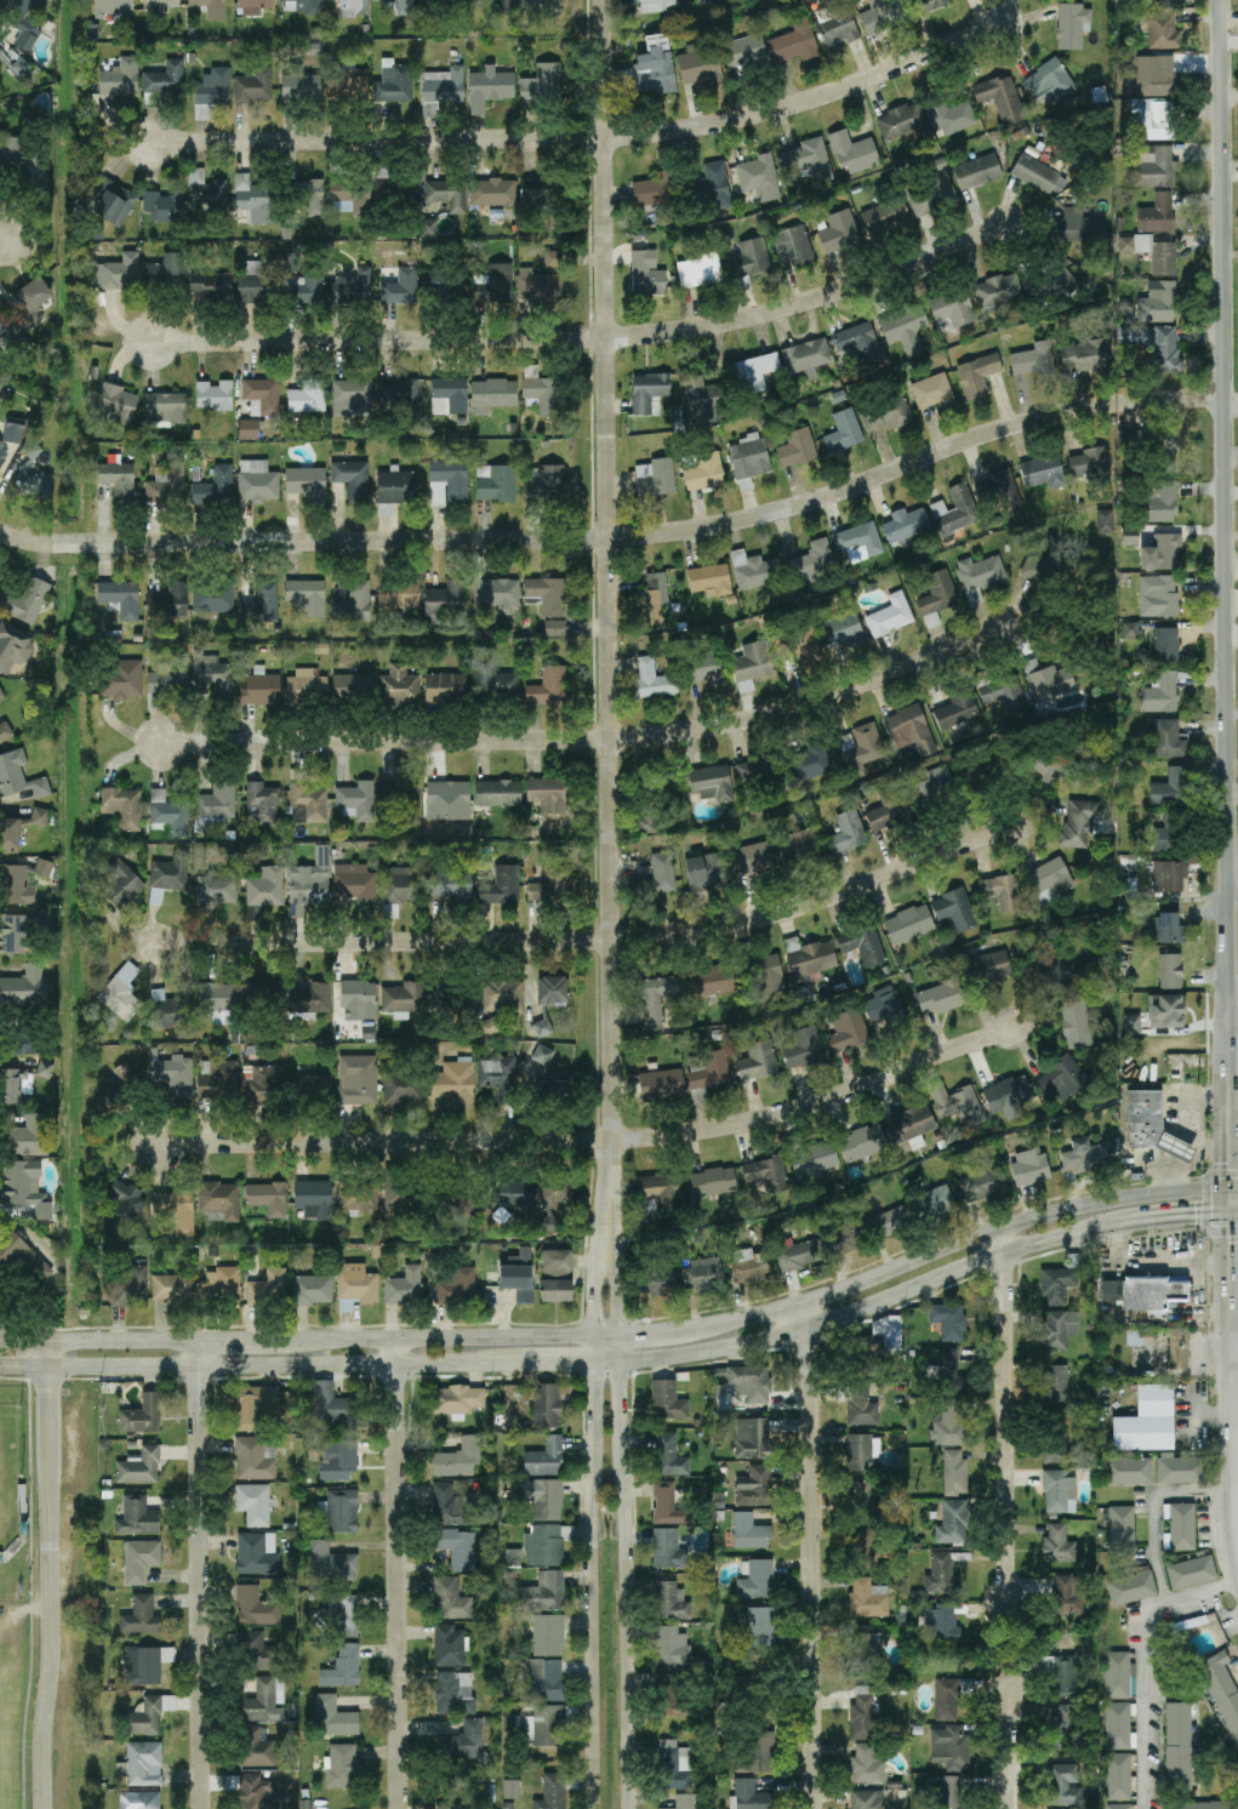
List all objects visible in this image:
building: (329, 0)
building: (440, 1)
building: (1166, 2)
building: (161, 4)
building: (494, 4)
building: (931, 4)
building: (656, 5)
building: (301, 6)
building: (403, 6)
building: (114, 7)
building: (252, 7)
building: (354, 7)
building: (541, 7)
building: (211, 8)
building: (882, 16)
building: (24, 21)
building: (837, 24)
building: (1072, 25)
building: (1163, 30)
building: (794, 44)
building: (746, 51)
building: (0, 52)
building: (700, 64)
building: (21, 67)
building: (652, 68)
building: (1154, 76)
building: (120, 79)
building: (165, 79)
building: (394, 82)
building: (1048, 82)
building: (441, 84)
building: (542, 84)
building: (299, 85)
building: (492, 85)
building: (255, 86)
building: (348, 86)
building: (211, 92)
road: (1230, 95)
building: (1000, 98)
building: (951, 116)
building: (1153, 119)
building: (903, 122)
road: (586, 141)
building: (854, 153)
building: (810, 160)
building: (29, 162)
building: (1154, 166)
road: (1230, 167)
building: (977, 172)
building: (1039, 176)
building: (760, 177)
building: (382, 184)
building: (712, 187)
building: (205, 190)
building: (532, 190)
building: (492, 192)
building: (656, 192)
building: (447, 194)
building: (309, 195)
building: (931, 195)
building: (350, 196)
building: (253, 199)
building: (113, 202)
building: (165, 207)
building: (1157, 215)
building: (885, 217)
building: (1074, 226)
building: (428, 228)
building: (839, 232)
road: (7, 242)
building: (793, 246)
building: (1152, 253)
building: (749, 258)
building: (552, 259)
building: (166, 269)
road: (607, 269)
building: (700, 270)
building: (116, 273)
building: (646, 273)
building: (1060, 279)
building: (302, 283)
building: (211, 285)
building: (255, 285)
building: (441, 285)
building: (494, 285)
building: (538, 286)
building: (352, 287)
building: (401, 287)
building: (998, 291)
building: (1158, 303)
building: (30, 304)
building: (952, 308)
building: (4, 333)
road: (587, 342)
building: (858, 342)
building: (1154, 344)
building: (1, 355)
building: (1083, 356)
building: (805, 359)
building: (1033, 360)
building: (755, 372)
building: (977, 375)
building: (647, 390)
building: (542, 392)
building: (934, 392)
building: (451, 393)
building: (215, 395)
building: (400, 395)
building: (492, 395)
building: (262, 396)
building: (308, 396)
building: (352, 398)
road: (1230, 400)
building: (702, 401)
building: (118, 405)
building: (165, 409)
building: (886, 415)
building: (249, 429)
building: (13, 430)
building: (844, 432)
building: (1131, 440)
building: (797, 449)
building: (1168, 450)
building: (4, 453)
building: (748, 457)
building: (1089, 463)
building: (703, 470)
building: (1043, 472)
building: (655, 478)
building: (116, 479)
building: (353, 479)
building: (257, 481)
building: (447, 483)
building: (495, 483)
building: (166, 484)
building: (307, 484)
building: (546, 485)
building: (215, 487)
building: (395, 490)
building: (1004, 490)
road: (1231, 493)
building: (1162, 503)
building: (955, 510)
building: (1105, 521)
building: (906, 524)
road: (621, 540)
building: (858, 542)
building: (1162, 553)
building: (814, 563)
road: (1232, 564)
building: (1040, 567)
building: (753, 570)
building: (980, 576)
building: (711, 581)
building: (939, 593)
building: (399, 594)
building: (497, 595)
building: (547, 595)
building: (307, 597)
building: (120, 598)
building: (213, 598)
building: (1160, 599)
building: (652, 600)
building: (24, 601)
building: (169, 601)
building: (444, 601)
building: (354, 603)
building: (263, 604)
road: (1232, 610)
building: (890, 616)
building: (554, 629)
building: (1130, 630)
building: (842, 632)
building: (806, 645)
building: (1166, 646)
building: (13, 647)
building: (753, 664)
building: (706, 668)
building: (213, 674)
building: (170, 675)
building: (122, 679)
building: (652, 681)
building: (307, 685)
building: (1051, 685)
building: (261, 687)
building: (352, 687)
building: (399, 687)
building: (501, 687)
building: (548, 687)
building: (445, 689)
building: (1, 694)
building: (1160, 694)
building: (1004, 695)
building: (155, 701)
building: (955, 712)
building: (911, 729)
building: (5, 732)
building: (1168, 738)
road: (594, 741)
building: (861, 748)
building: (809, 763)
building: (981, 766)
building: (1045, 769)
building: (757, 772)
building: (18, 776)
building: (712, 783)
building: (932, 788)
road: (1230, 788)
building: (1171, 789)
building: (498, 793)
building: (547, 794)
building: (404, 799)
building: (307, 800)
building: (447, 800)
building: (217, 801)
building: (356, 801)
building: (263, 803)
building: (124, 808)
building: (890, 811)
building: (170, 814)
building: (39, 817)
building: (646, 822)
building: (1078, 822)
building: (848, 832)
building: (1165, 834)
building: (8, 835)
building: (799, 846)
building: (753, 860)
building: (706, 872)
building: (660, 877)
building: (1169, 877)
building: (1050, 880)
building: (21, 881)
building: (354, 883)
building: (120, 884)
building: (309, 884)
building: (401, 885)
building: (451, 885)
building: (550, 885)
building: (267, 888)
building: (501, 888)
building: (217, 890)
building: (1002, 892)
building: (955, 909)
building: (908, 924)
building: (1164, 929)
building: (13, 935)
road: (594, 940)
building: (863, 945)
road: (609, 951)
building: (810, 957)
building: (987, 968)
building: (1170, 971)
building: (769, 974)
building: (1048, 975)
building: (711, 981)
building: (24, 987)
building: (552, 989)
building: (444, 993)
building: (122, 994)
building: (263, 994)
building: (502, 997)
building: (656, 997)
building: (940, 998)
building: (217, 999)
building: (310, 999)
building: (403, 999)
building: (359, 1000)
building: (885, 1008)
building: (1165, 1011)
building: (172, 1016)
building: (1076, 1025)
building: (1131, 1025)
building: (491, 1026)
building: (542, 1028)
building: (848, 1033)
road: (1232, 1035)
building: (28, 1045)
building: (804, 1048)
building: (543, 1055)
building: (758, 1061)
building: (45, 1069)
building: (124, 1075)
building: (175, 1075)
building: (498, 1077)
building: (218, 1080)
building: (358, 1080)
building: (1062, 1080)
building: (453, 1082)
building: (263, 1084)
building: (661, 1084)
building: (15, 1085)
building: (314, 1086)
building: (403, 1088)
building: (550, 1091)
building: (1009, 1096)
building: (958, 1103)
building: (909, 1124)
building: (1152, 1125)
road: (1181, 1135)
building: (29, 1136)
road: (588, 1142)
building: (863, 1142)
road: (1203, 1146)
road: (1232, 1149)
building: (1084, 1157)
building: (814, 1159)
traffic signals: (1227, 1165)
road: (1191, 1166)
building: (1029, 1168)
building: (768, 1175)
building: (713, 1182)
building: (983, 1185)
building: (24, 1188)
building: (662, 1191)
road: (1232, 1191)
building: (515, 1193)
building: (554, 1194)
building: (358, 1195)
building: (400, 1195)
building: (268, 1198)
building: (314, 1199)
building: (219, 1202)
building: (934, 1203)
building: (126, 1204)
building: (177, 1210)
road: (1232, 1214)
traffic signals: (1196, 1216)
road: (1171, 1217)
building: (891, 1221)
building: (846, 1234)
traffic signals: (1227, 1244)
building: (800, 1254)
building: (21, 1257)
road: (1154, 1262)
building: (749, 1267)
building: (704, 1274)
building: (519, 1276)
building: (557, 1276)
building: (222, 1283)
building: (455, 1285)
building: (1056, 1285)
building: (355, 1286)
building: (172, 1288)
building: (268, 1288)
building: (404, 1288)
building: (129, 1289)
building: (313, 1290)
building: (1143, 1292)
road: (1232, 1318)
building: (948, 1320)
building: (1057, 1329)
road: (623, 1337)
building: (879, 1339)
building: (1179, 1348)
road: (45, 1354)
road: (569, 1360)
building: (948, 1373)
building: (751, 1382)
building: (458, 1399)
building: (668, 1400)
building: (332, 1405)
building: (546, 1405)
building: (253, 1406)
building: (861, 1406)
road: (1004, 1413)
building: (142, 1416)
building: (1147, 1421)
building: (951, 1423)
building: (752, 1438)
building: (1054, 1442)
building: (862, 1453)
building: (669, 1456)
building: (255, 1457)
building: (458, 1459)
building: (546, 1459)
building: (337, 1460)
building: (139, 1467)
building: (1180, 1470)
building: (954, 1472)
building: (1129, 1472)
building: (754, 1486)
building: (1059, 1493)
building: (858, 1499)
building: (546, 1500)
building: (253, 1505)
building: (667, 1505)
building: (451, 1506)
building: (342, 1511)
road: (1156, 1517)
building: (137, 1518)
building: (952, 1522)
building: (1182, 1526)
building: (1122, 1530)
building: (749, 1531)
building: (1059, 1545)
building: (543, 1546)
building: (458, 1548)
building: (668, 1550)
building: (863, 1550)
road: (1234, 1551)
building: (257, 1553)
road: (814, 1558)
building: (141, 1560)
building: (331, 1564)
building: (1191, 1573)
building: (941, 1574)
road: (396, 1575)
road: (199, 1576)
building: (757, 1580)
road: (594, 1582)
road: (627, 1582)
building: (1131, 1587)
road: (55, 1588)
building: (1067, 1592)
building: (543, 1593)
building: (869, 1598)
building: (450, 1599)
building: (671, 1602)
building: (256, 1608)
building: (141, 1616)
building: (343, 1616)
building: (943, 1622)
building: (1189, 1623)
building: (759, 1627)
building: (548, 1634)
building: (449, 1647)
building: (672, 1647)
building: (862, 1647)
building: (258, 1653)
road: (1145, 1662)
building: (146, 1665)
building: (343, 1667)
building: (1118, 1674)
building: (1065, 1676)
building: (543, 1680)
building: (753, 1680)
building: (1222, 1691)
building: (455, 1693)
building: (669, 1695)
building: (266, 1700)
building: (947, 1700)
building: (150, 1714)
building: (333, 1717)
building: (862, 1718)
building: (546, 1725)
building: (1062, 1727)
building: (1118, 1727)
building: (463, 1741)
building: (256, 1747)
building: (1179, 1747)
building: (951, 1748)
building: (759, 1753)
road: (1005, 1753)
building: (144, 1764)
building: (867, 1764)
building: (342, 1765)
building: (675, 1765)
building: (1118, 1776)
building: (1066, 1785)
building: (512, 1788)
building: (259, 1792)
building: (552, 1792)
building: (952, 1792)
building: (749, 1796)
building: (141, 1799)
building: (867, 1799)
building: (685, 1802)
building: (1202, 1805)
building: (447, 1807)
building: (1118, 1807)

